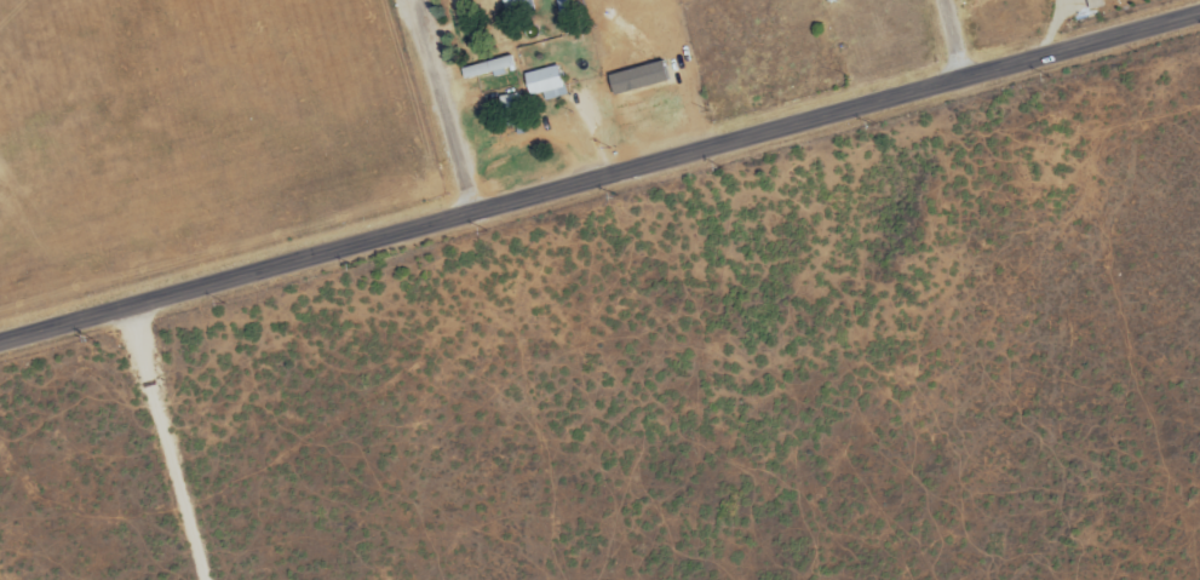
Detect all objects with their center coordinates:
building: (1092, 5)
building: (516, 7)
building: (562, 7)
road: (949, 44)
building: (487, 69)
building: (544, 84)
road: (453, 109)
building: (509, 109)
crop: (203, 149)
road: (599, 185)

